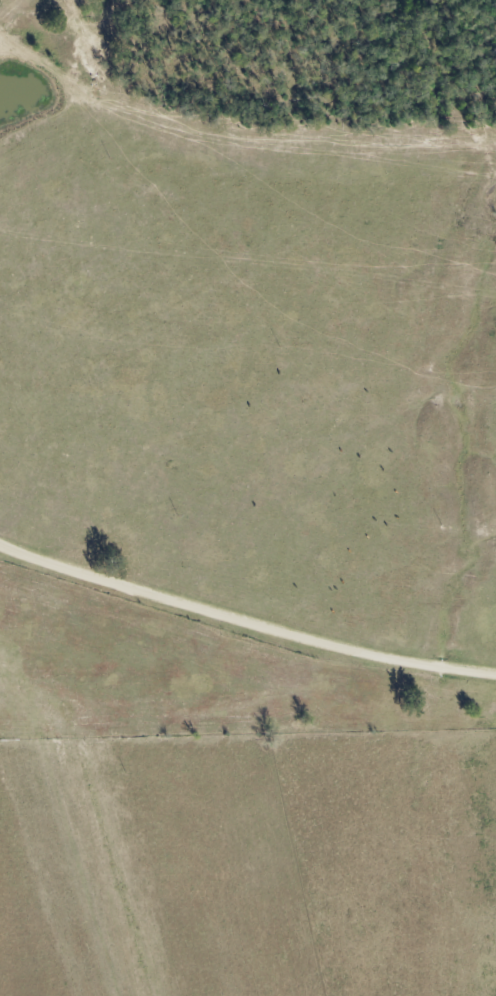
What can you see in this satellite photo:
road: (244, 626)

